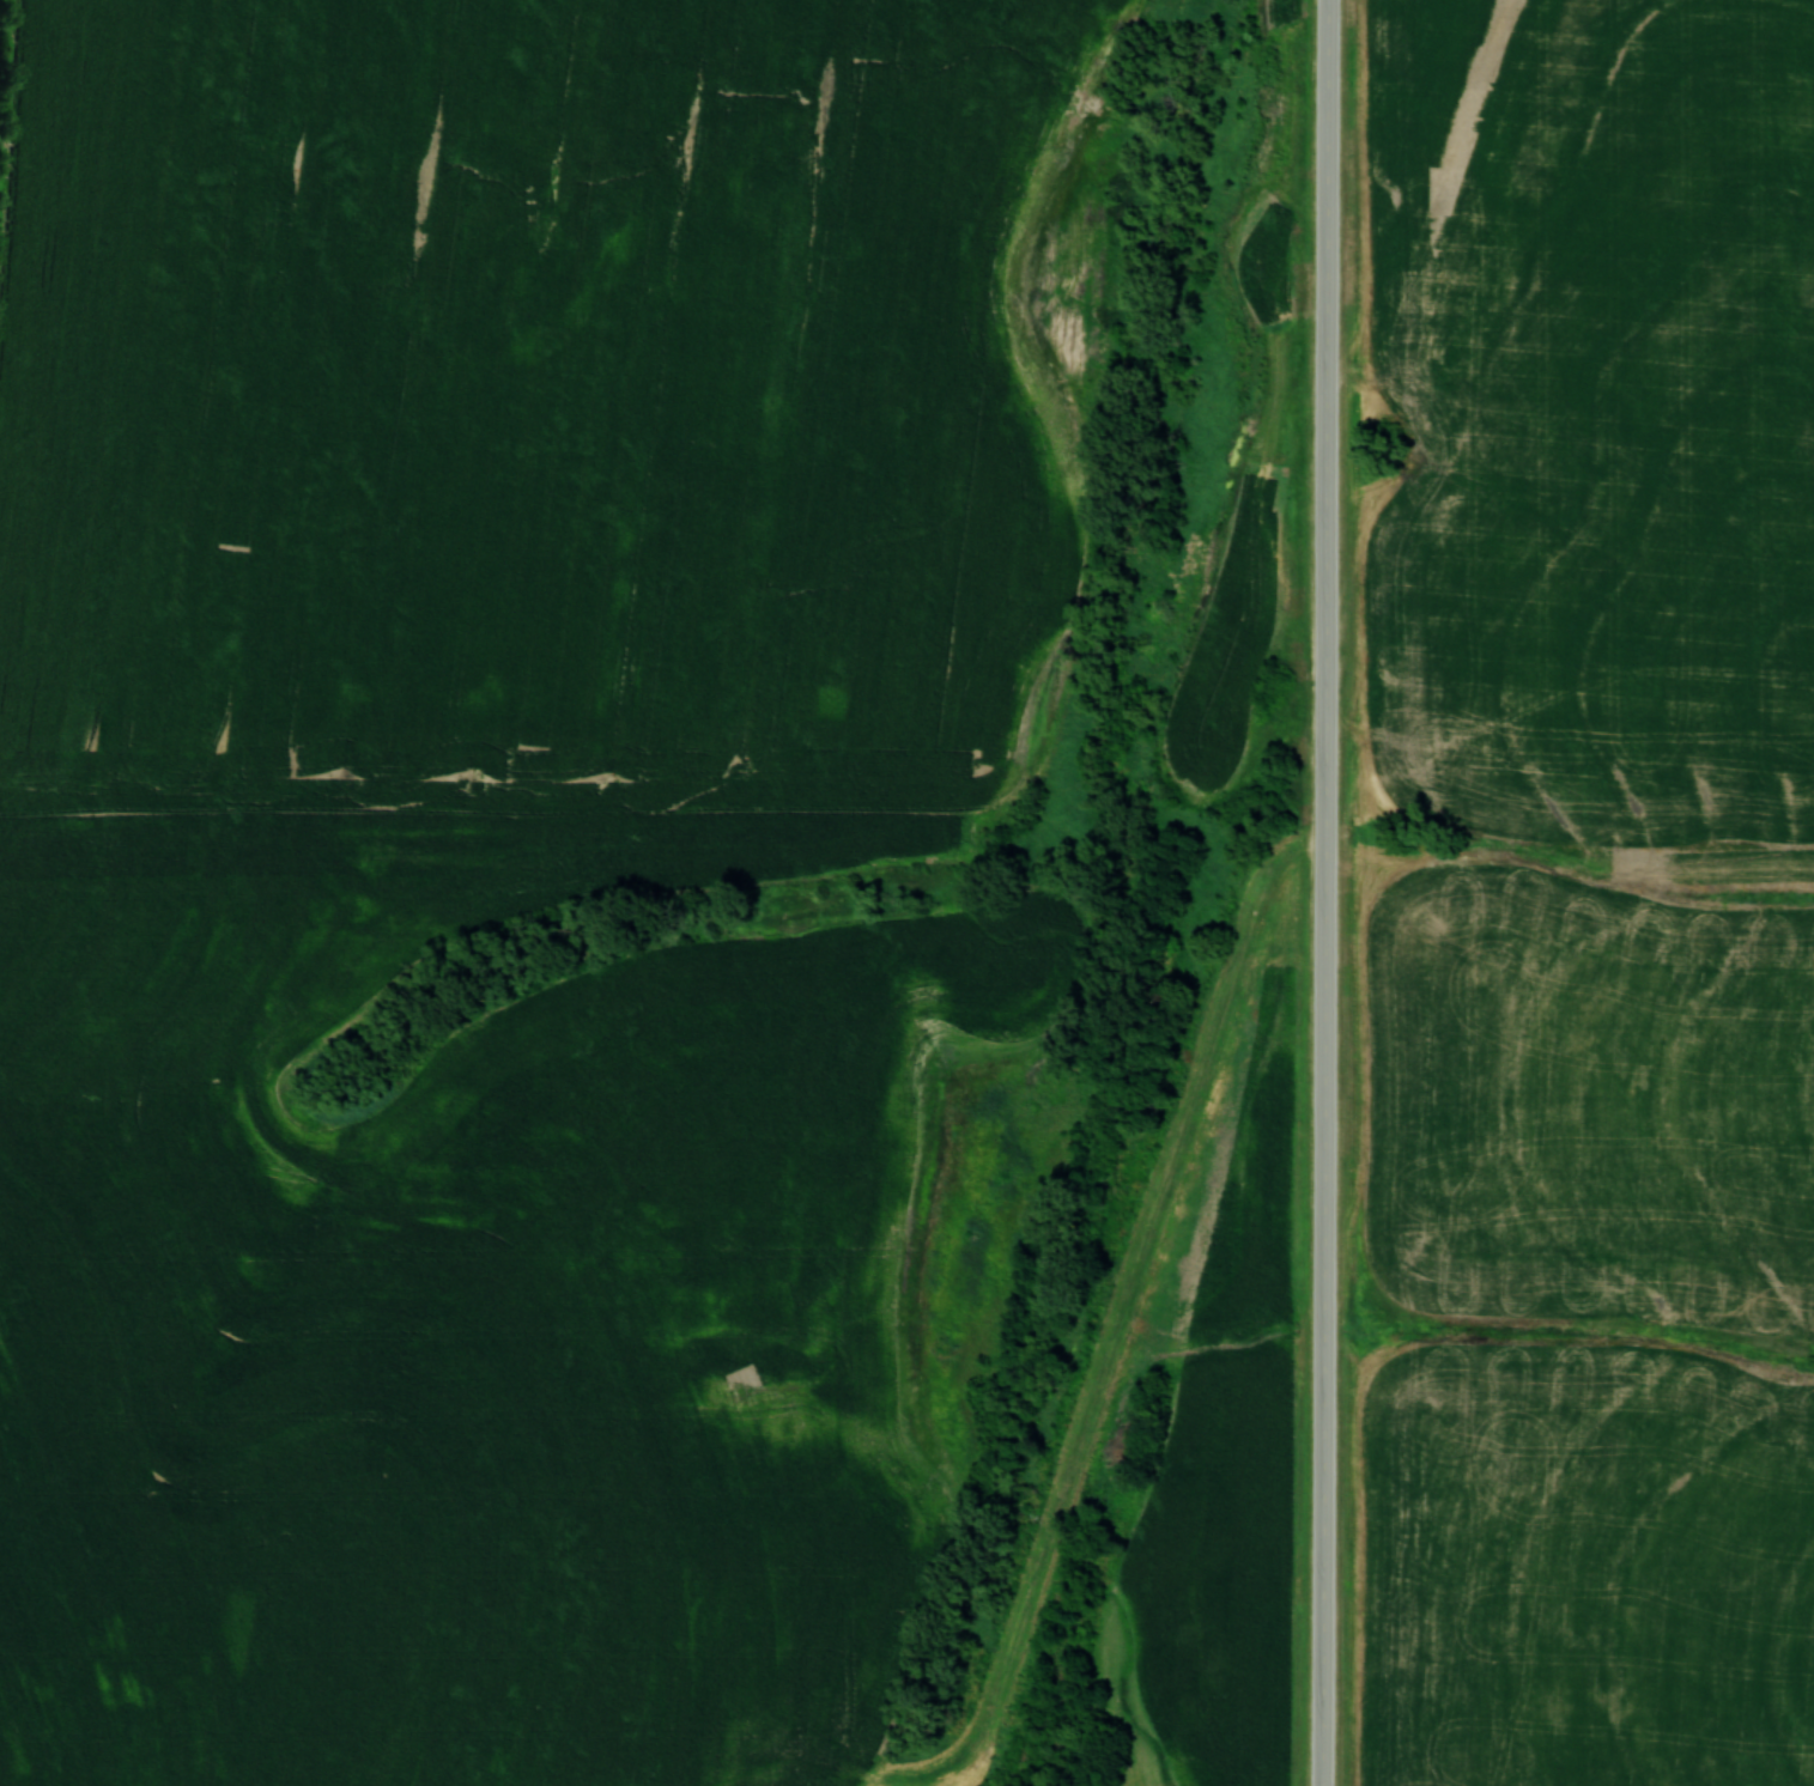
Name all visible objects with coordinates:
road: (1325, 893)

